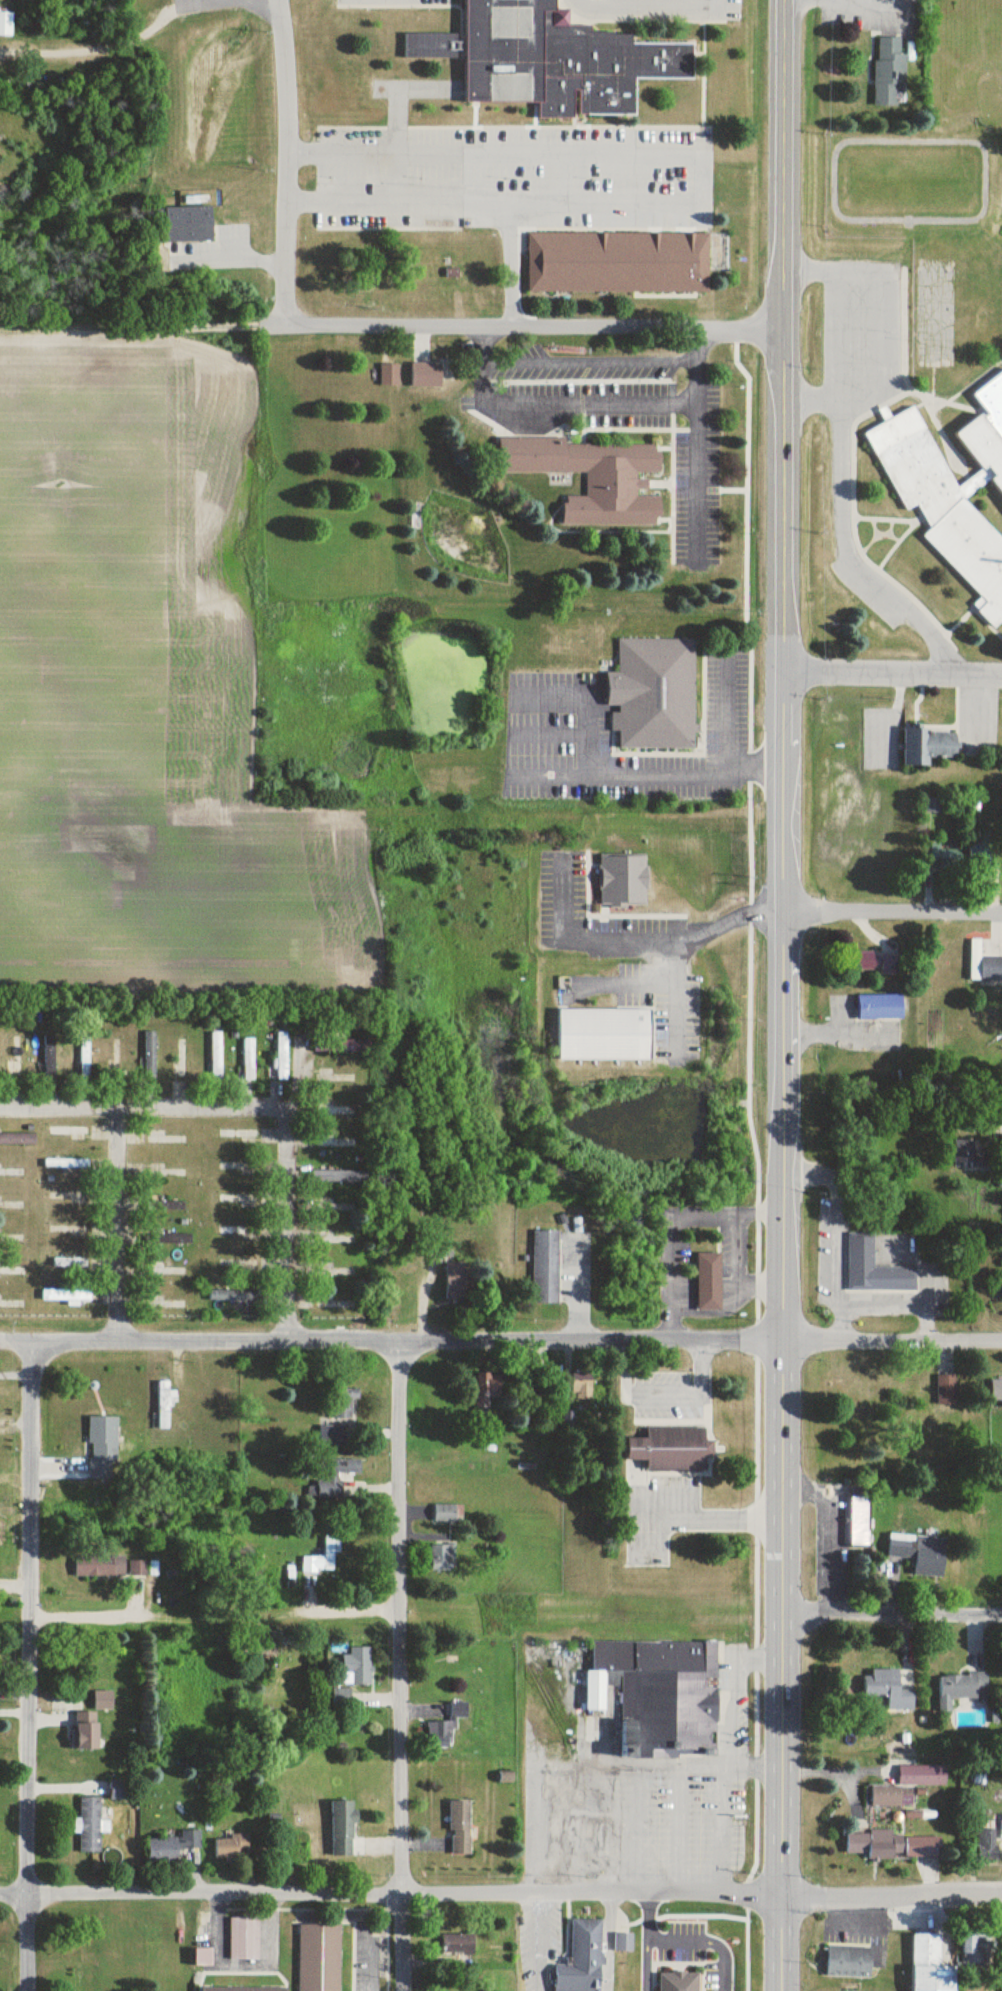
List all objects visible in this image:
building: (6, 24)
building: (430, 46)
building: (559, 61)
building: (890, 72)
road: (292, 163)
road: (459, 202)
building: (187, 225)
building: (619, 263)
road: (390, 329)
road: (882, 329)
road: (840, 333)
building: (389, 375)
building: (425, 375)
road: (587, 404)
road: (697, 473)
building: (593, 478)
building: (953, 495)
road: (847, 557)
road: (893, 674)
building: (653, 695)
road: (728, 713)
building: (928, 747)
road: (646, 777)
building: (945, 858)
building: (622, 882)
road: (892, 906)
road: (637, 941)
building: (879, 963)
building: (984, 965)
road: (626, 984)
road: (782, 995)
road: (675, 997)
building: (879, 1007)
building: (603, 1035)
building: (355, 1046)
building: (149, 1052)
building: (216, 1055)
building: (280, 1056)
building: (49, 1057)
building: (182, 1057)
building: (84, 1059)
building: (248, 1059)
building: (117, 1060)
building: (348, 1078)
road: (138, 1108)
building: (338, 1111)
building: (68, 1132)
building: (239, 1135)
building: (17, 1139)
building: (339, 1144)
building: (971, 1156)
building: (66, 1165)
building: (240, 1167)
building: (176, 1173)
road: (281, 1197)
building: (80, 1199)
building: (234, 1199)
building: (166, 1206)
building: (337, 1208)
road: (121, 1223)
building: (69, 1230)
building: (238, 1230)
building: (173, 1239)
building: (338, 1241)
building: (69, 1263)
building: (241, 1266)
building: (545, 1267)
building: (874, 1268)
building: (11, 1271)
building: (171, 1272)
building: (213, 1280)
building: (455, 1282)
building: (708, 1282)
building: (1001, 1289)
building: (234, 1295)
building: (66, 1297)
road: (500, 1341)
building: (860, 1383)
building: (487, 1386)
building: (582, 1390)
building: (946, 1390)
building: (996, 1390)
building: (342, 1403)
building: (164, 1407)
building: (331, 1436)
building: (103, 1443)
building: (670, 1449)
building: (332, 1475)
building: (446, 1514)
building: (857, 1522)
building: (919, 1553)
building: (322, 1557)
building: (441, 1558)
building: (100, 1566)
building: (137, 1569)
road: (513, 1611)
building: (268, 1652)
building: (357, 1665)
road: (25, 1666)
road: (397, 1666)
building: (960, 1689)
building: (887, 1690)
road: (735, 1692)
building: (659, 1695)
building: (341, 1698)
building: (103, 1701)
building: (446, 1727)
building: (84, 1731)
road: (609, 1766)
building: (907, 1786)
building: (118, 1791)
building: (458, 1828)
building: (1001, 1828)
building: (341, 1829)
road: (639, 1829)
road: (679, 1829)
road: (720, 1829)
building: (986, 1841)
building: (171, 1846)
building: (890, 1846)
building: (230, 1848)
road: (501, 1894)
building: (179, 1936)
building: (242, 1937)
building: (623, 1943)
building: (456, 1949)
building: (975, 1951)
building: (582, 1954)
building: (318, 1956)
building: (201, 1957)
building: (848, 1961)
building: (929, 1964)
building: (76, 1981)
building: (679, 1981)
building: (245, 1988)
building: (986, 1990)

